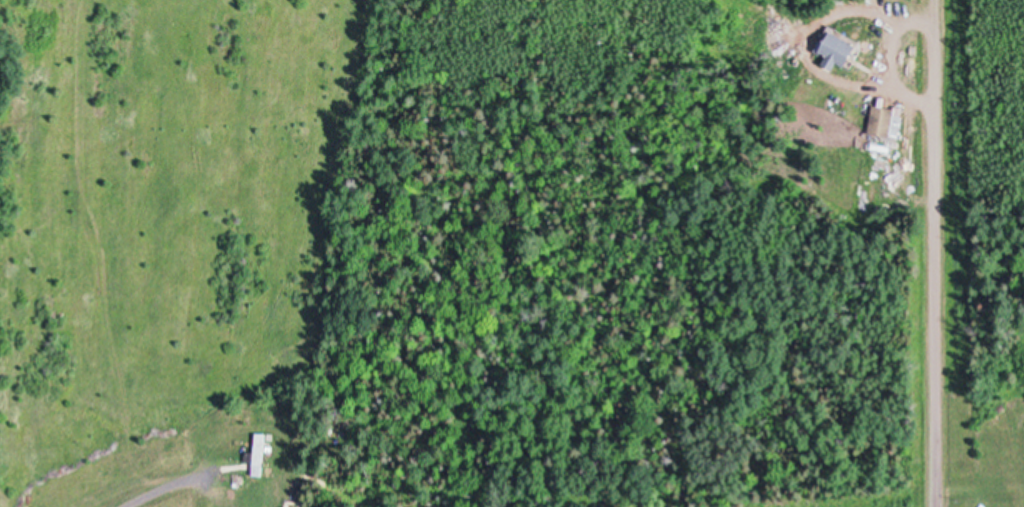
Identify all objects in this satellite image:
building: (839, 50)
building: (885, 121)
road: (931, 253)
building: (976, 436)
building: (257, 454)
road: (175, 488)

